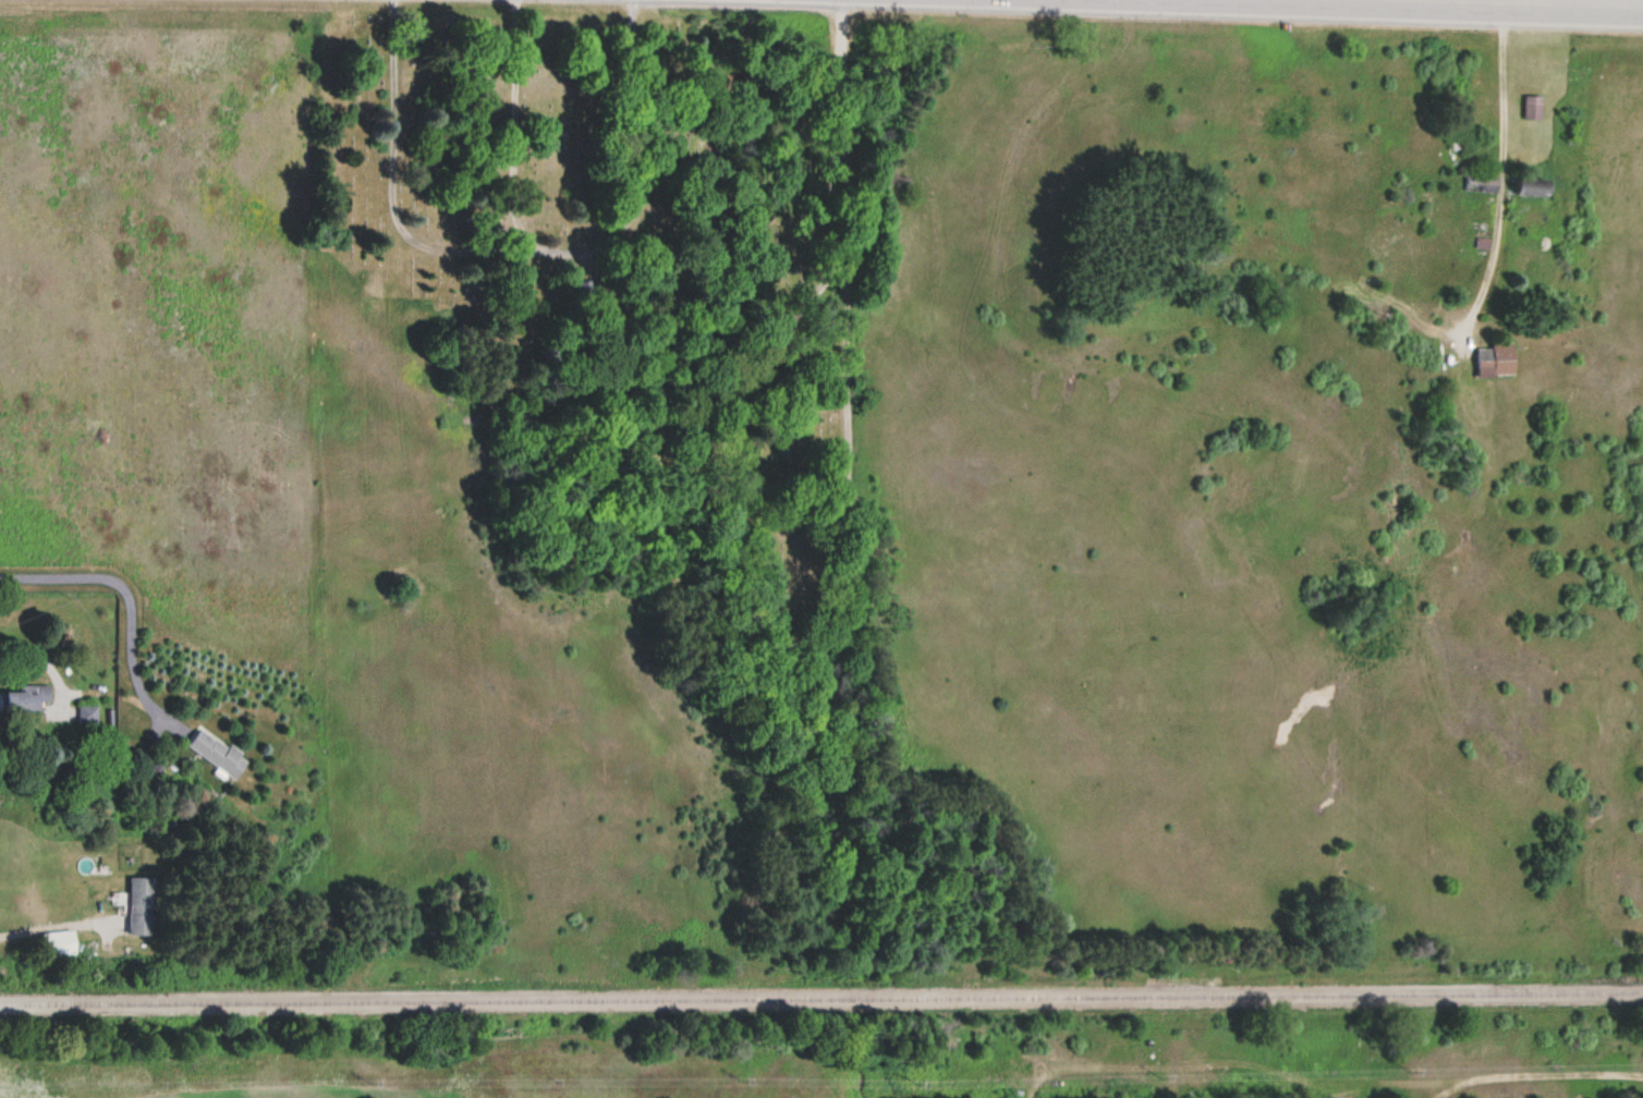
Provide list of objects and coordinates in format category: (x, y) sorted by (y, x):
building: (1531, 106)
road: (508, 126)
park: (424, 156)
building: (1481, 181)
building: (1532, 185)
building: (1494, 357)
building: (25, 696)
building: (86, 713)
building: (216, 752)
building: (142, 904)
building: (58, 942)
railway: (821, 993)

